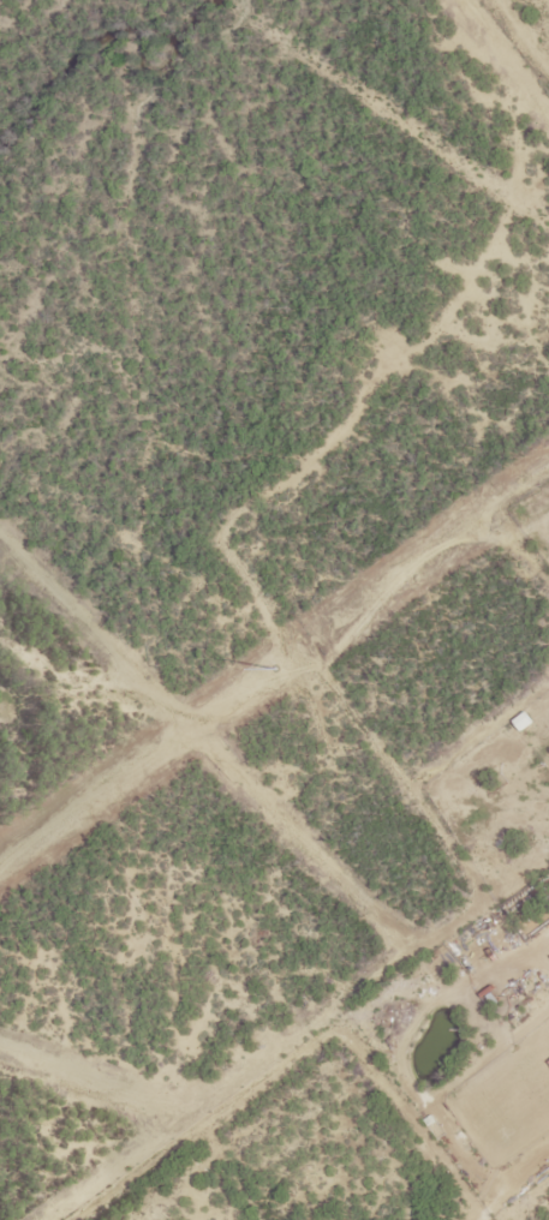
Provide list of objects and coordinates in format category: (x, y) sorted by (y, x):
power tower: (275, 669)

